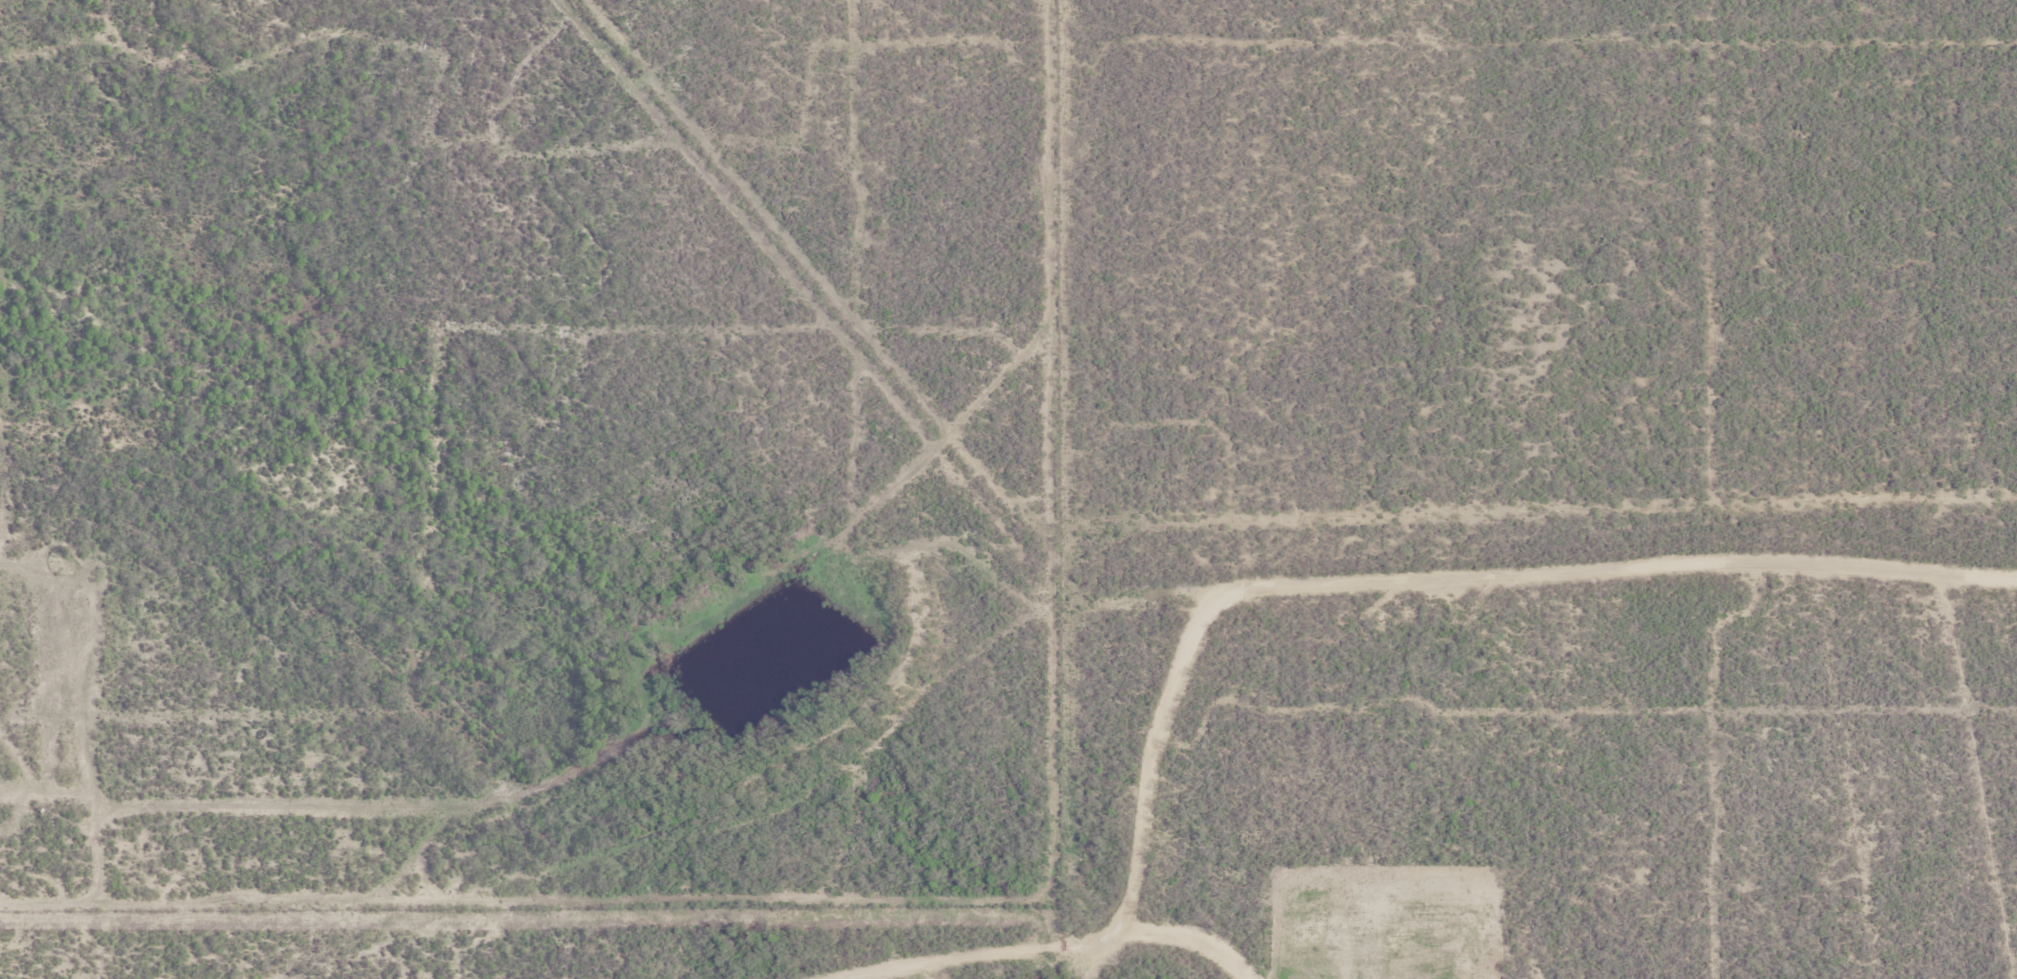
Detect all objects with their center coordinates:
road: (1881, 568)
road: (1190, 641)

